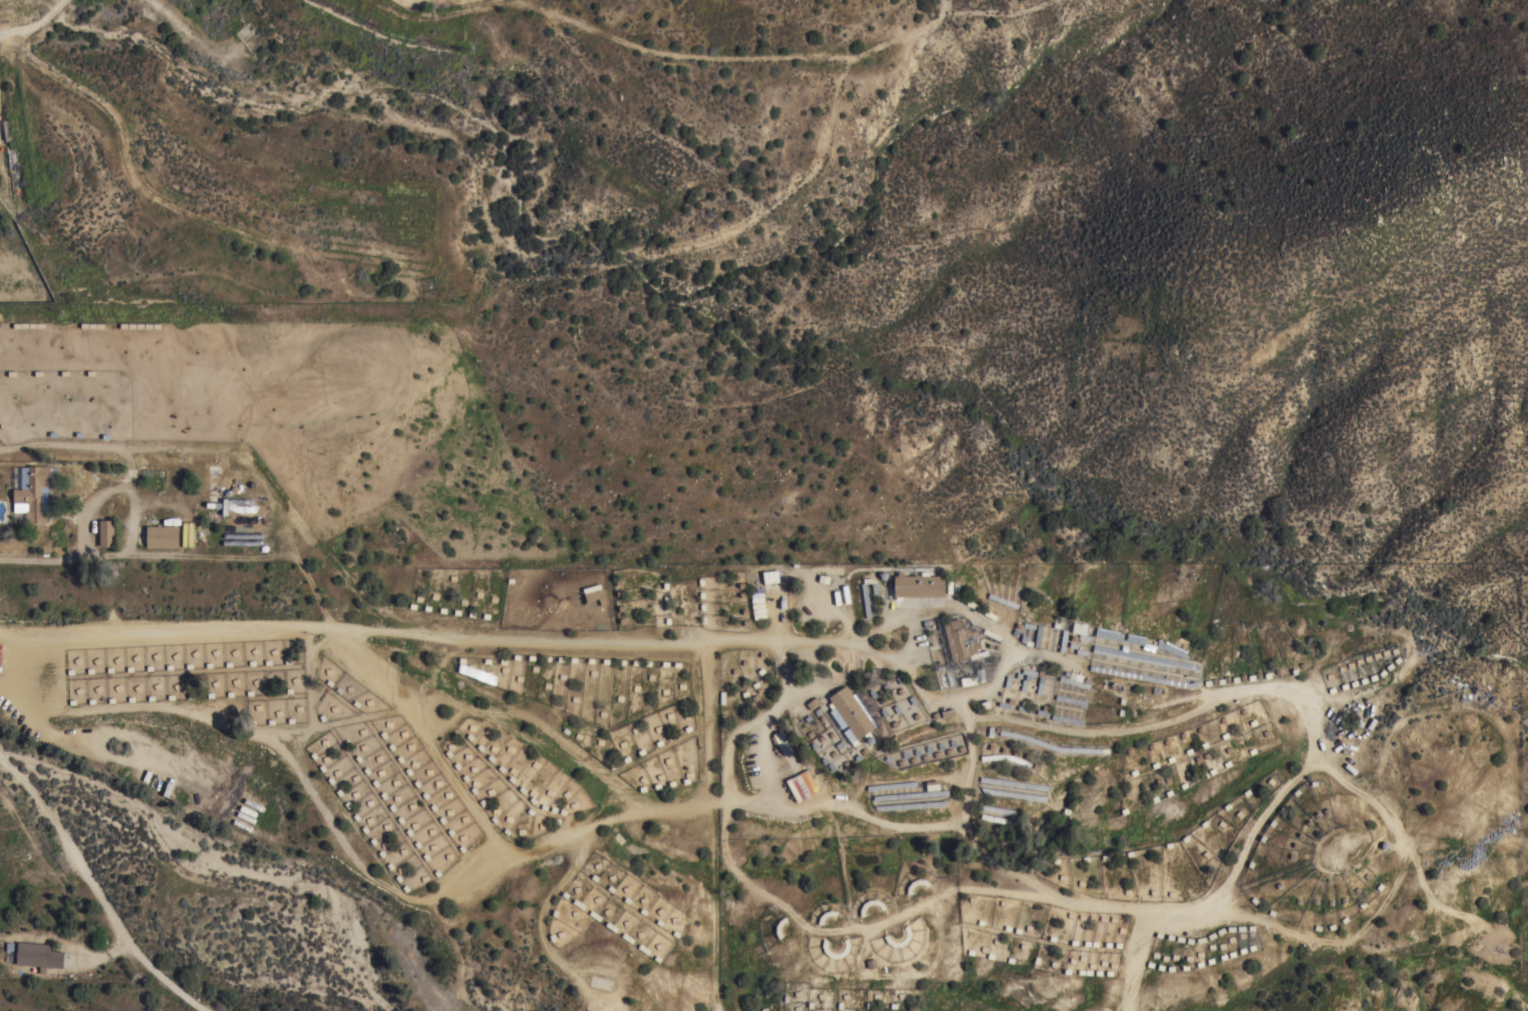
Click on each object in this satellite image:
building: (33, 496)
building: (213, 518)
building: (106, 533)
building: (161, 537)
road: (61, 558)
building: (770, 577)
building: (917, 585)
building: (594, 594)
building: (866, 606)
building: (1080, 631)
building: (962, 641)
building: (1140, 641)
building: (1144, 658)
building: (1146, 677)
building: (973, 678)
building: (1026, 678)
building: (1073, 679)
building: (1071, 700)
building: (850, 712)
building: (1067, 719)
building: (782, 743)
building: (1041, 743)
building: (1006, 759)
building: (1013, 783)
building: (801, 786)
building: (891, 786)
building: (1011, 794)
building: (911, 795)
building: (910, 806)
building: (997, 810)
road: (98, 894)
building: (862, 909)
building: (885, 936)
building: (846, 947)
building: (38, 956)

